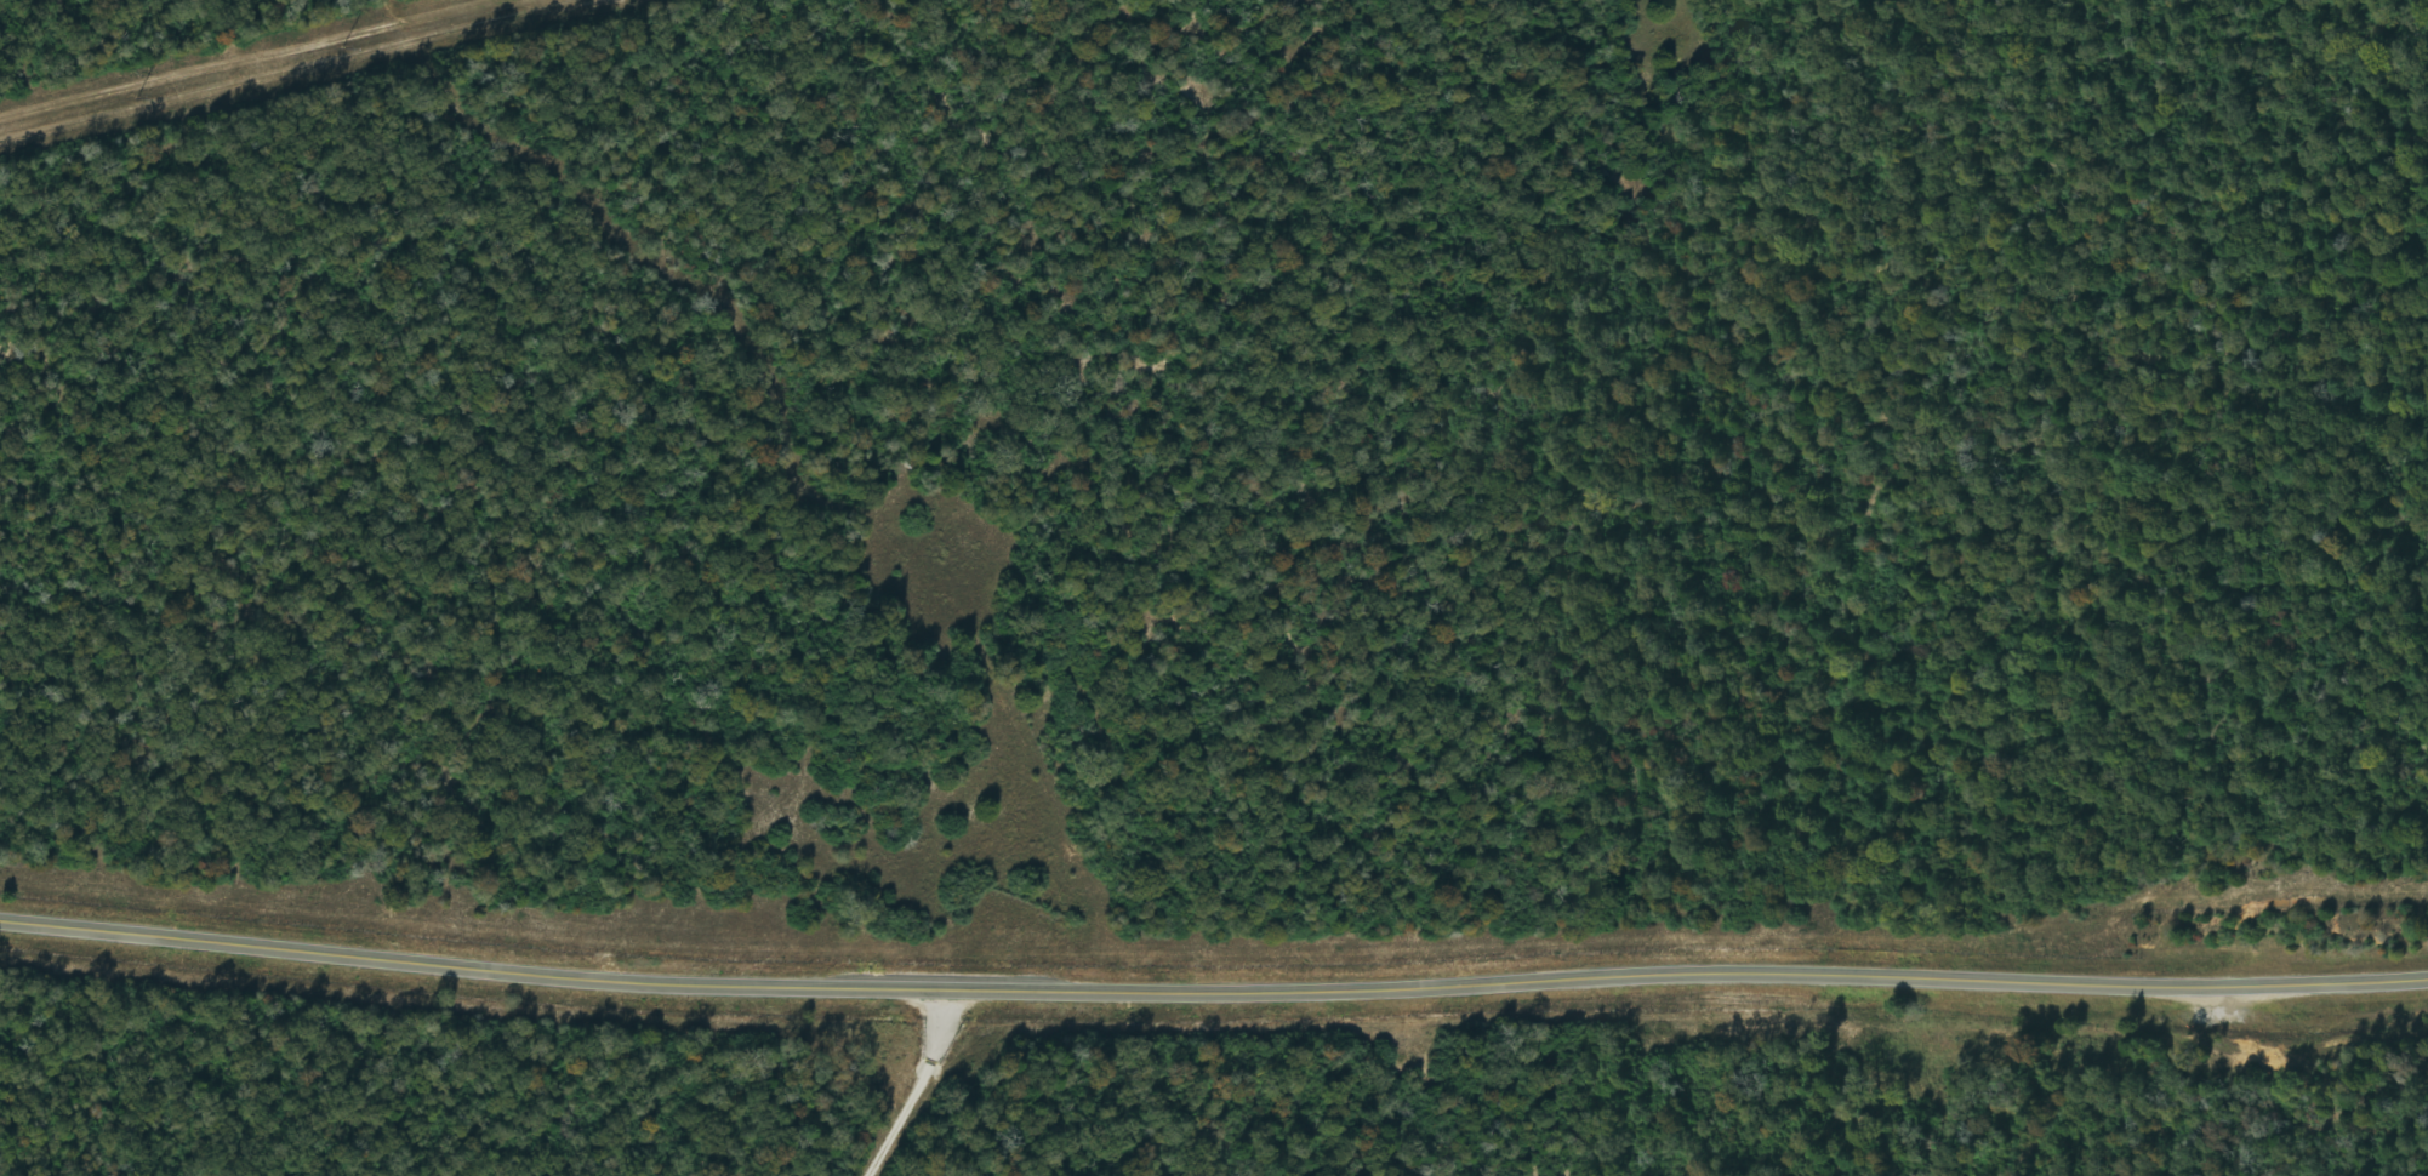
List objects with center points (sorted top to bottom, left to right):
road: (1213, 991)
road: (917, 1085)

